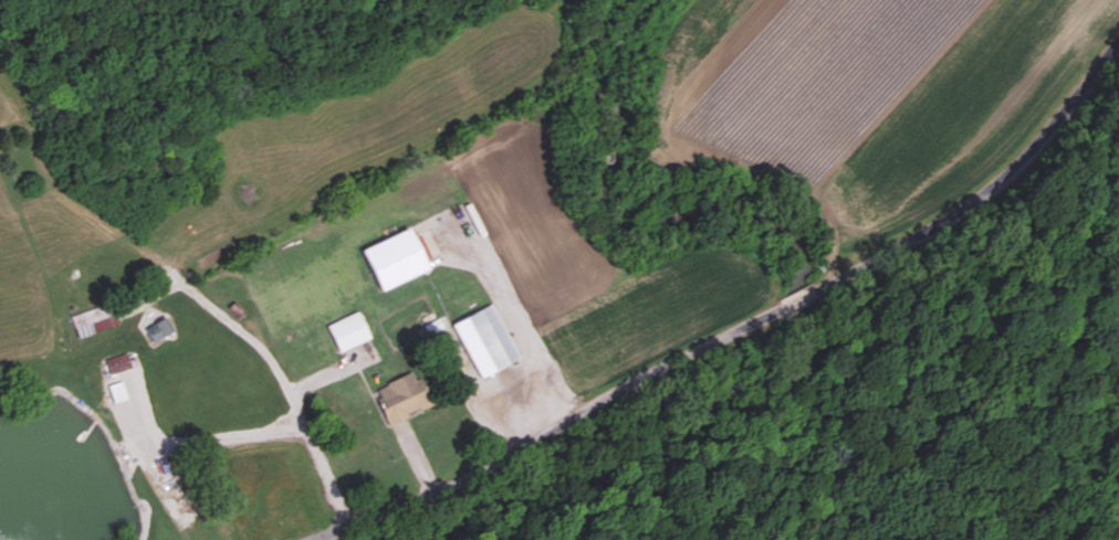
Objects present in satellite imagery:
building: (163, 330)
building: (351, 331)
road: (723, 338)
building: (490, 340)
road: (278, 379)
building: (121, 392)
building: (407, 400)
road: (187, 441)

